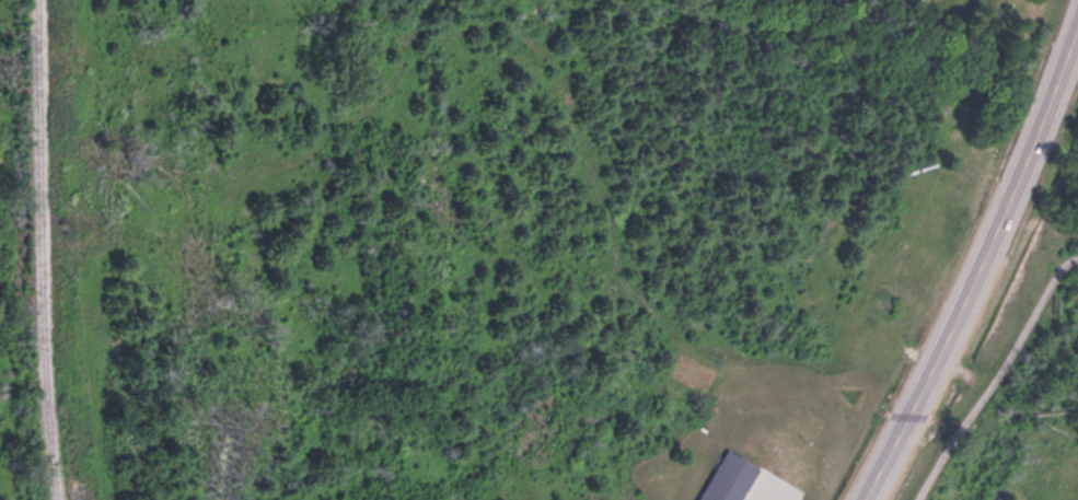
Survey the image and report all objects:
railway: (37, 249)
road: (980, 266)
road: (996, 374)
building: (728, 477)

